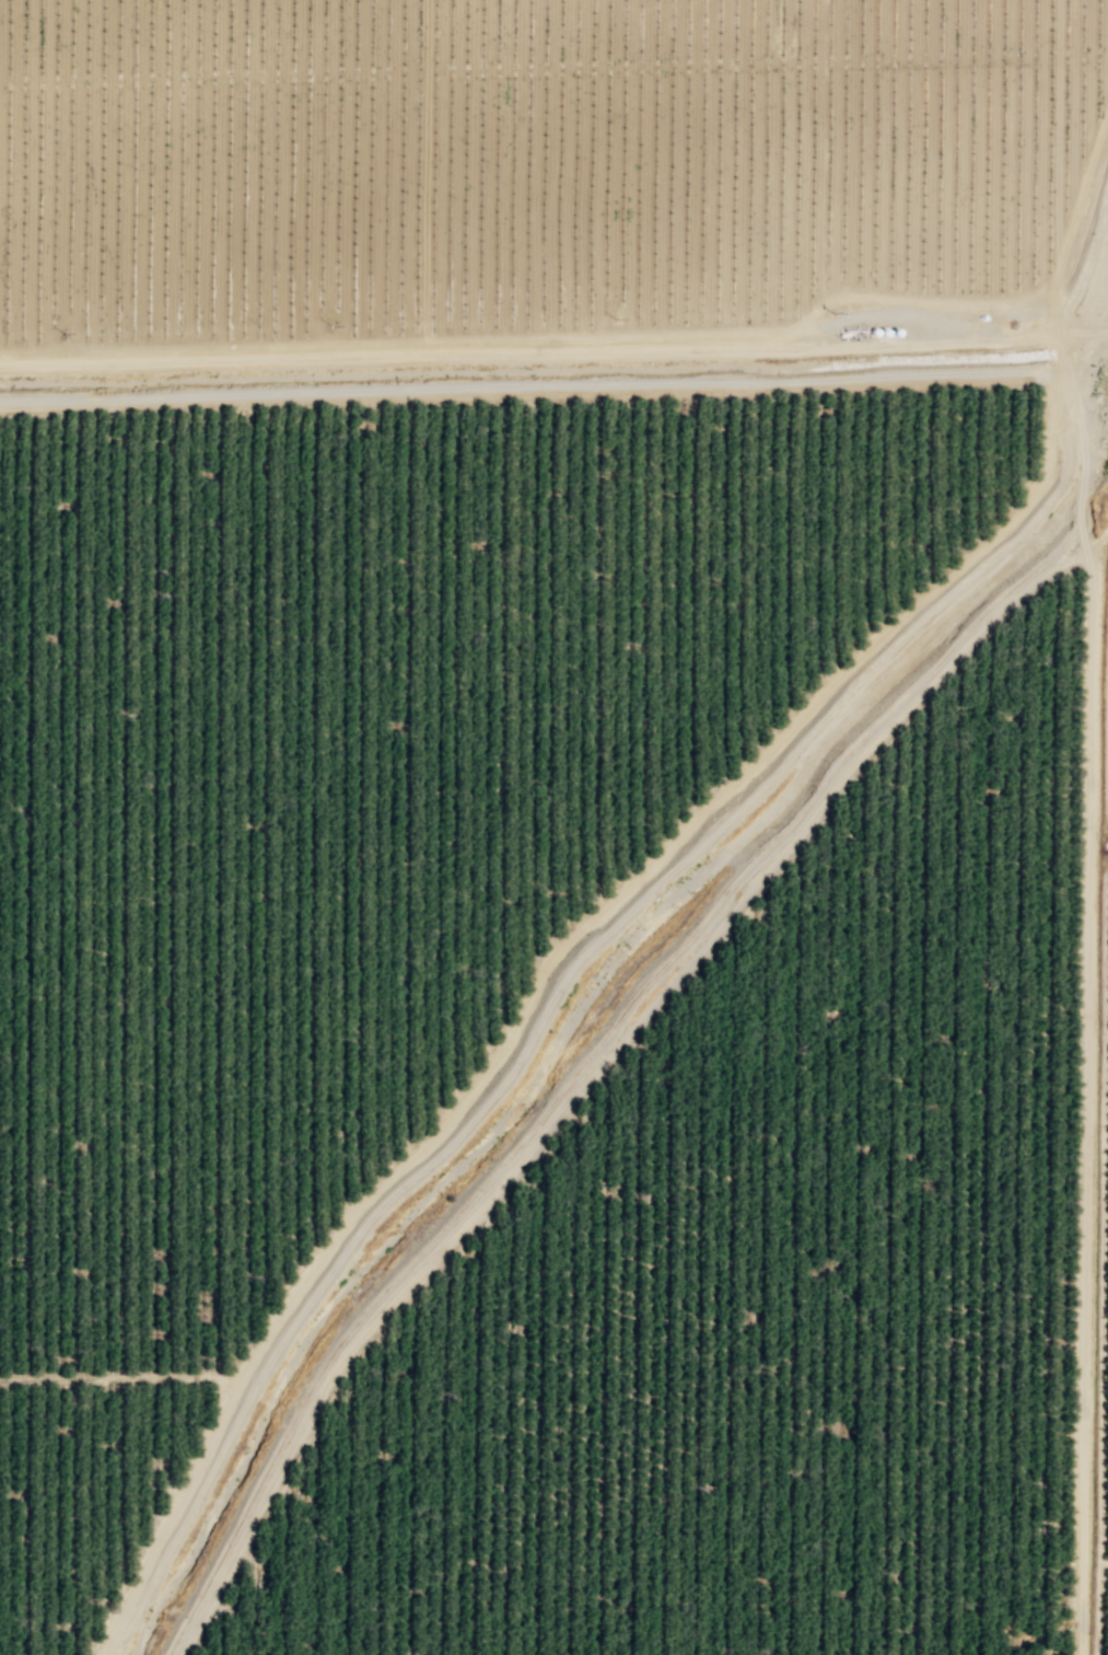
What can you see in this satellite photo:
road: (1004, 161)
road: (525, 176)
crop: (545, 178)
road: (1085, 252)
road: (1085, 334)
road: (806, 340)
road: (392, 348)
road: (1070, 351)
road: (530, 354)
road: (537, 385)
road: (1098, 541)
road: (552, 986)
road: (1088, 1010)
road: (581, 1060)
road: (1099, 1264)
road: (128, 1379)
road: (1103, 1564)

